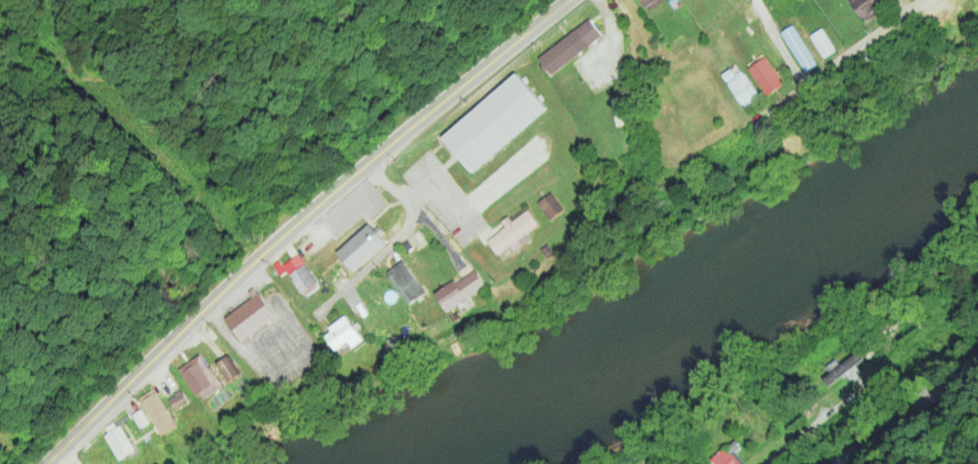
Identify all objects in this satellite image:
building: (649, 3)
building: (866, 7)
building: (936, 10)
road: (777, 42)
building: (822, 42)
building: (569, 45)
building: (798, 47)
road: (640, 56)
road: (839, 56)
building: (765, 75)
building: (739, 84)
building: (493, 121)
building: (549, 205)
road: (300, 223)
building: (513, 231)
road: (391, 240)
building: (361, 245)
building: (299, 273)
building: (405, 281)
building: (459, 289)
river: (669, 292)
building: (250, 316)
building: (342, 333)
building: (842, 366)
building: (228, 367)
building: (200, 376)
road: (871, 376)
building: (178, 399)
road: (909, 408)
building: (157, 411)
building: (140, 417)
building: (120, 442)
building: (732, 447)
building: (726, 458)

